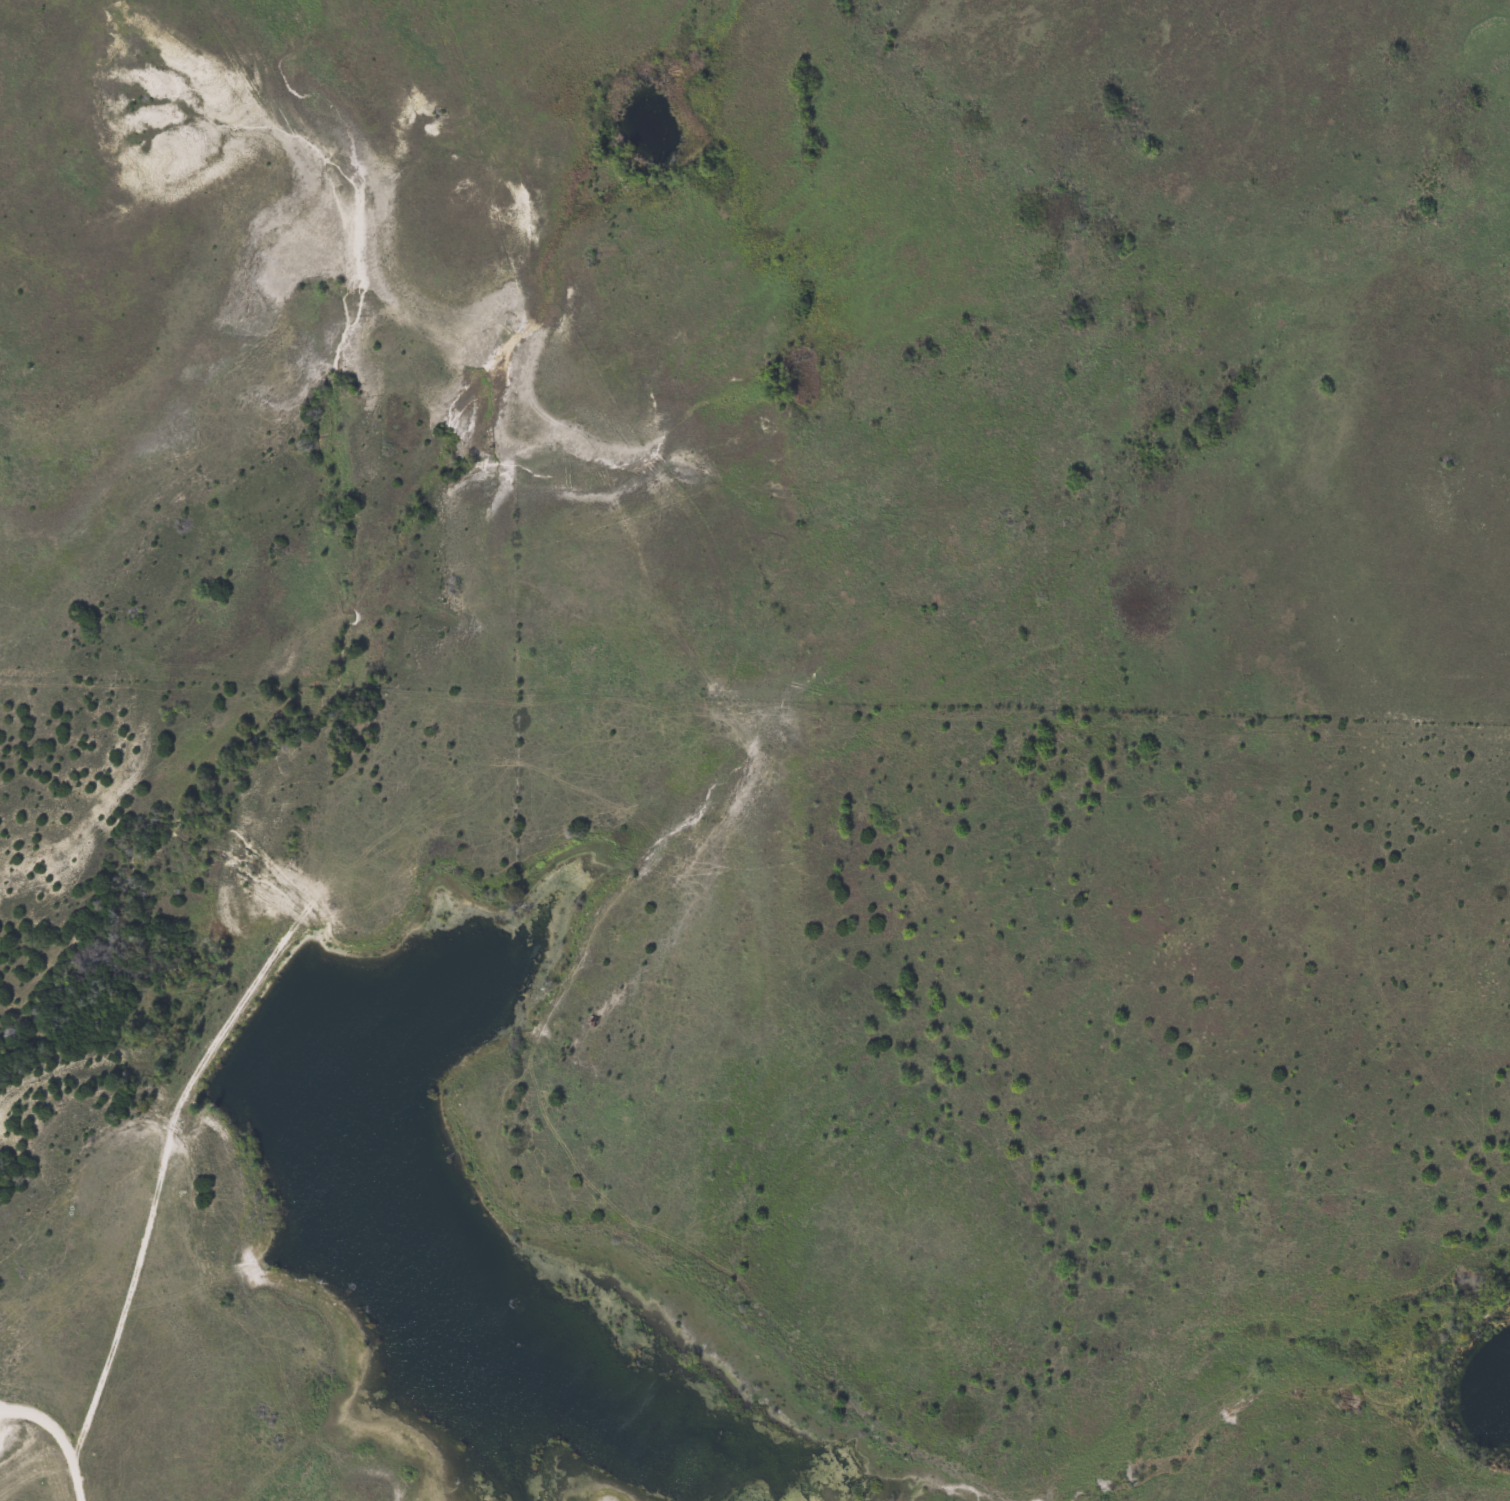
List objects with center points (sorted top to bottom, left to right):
road: (305, 142)
road: (157, 1187)
road: (40, 1416)
road: (77, 1472)

